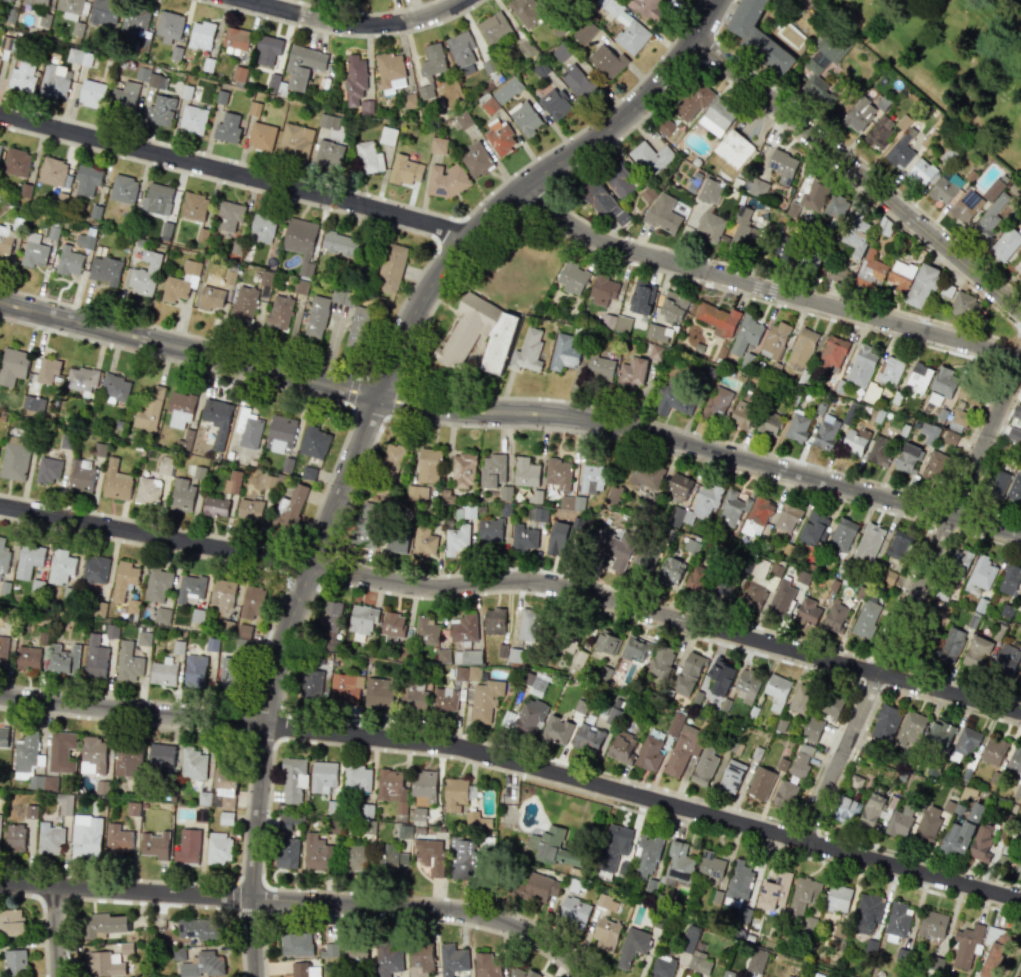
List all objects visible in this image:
building: (9, 0)
building: (69, 8)
building: (646, 9)
building: (526, 10)
building: (104, 11)
road: (703, 19)
building: (134, 20)
road: (356, 25)
building: (169, 26)
building: (493, 27)
building: (625, 27)
building: (583, 32)
building: (201, 35)
building: (758, 36)
building: (235, 39)
building: (143, 44)
building: (526, 48)
building: (267, 49)
building: (462, 51)
building: (78, 57)
park: (950, 59)
building: (606, 61)
building: (303, 65)
building: (821, 67)
building: (430, 68)
building: (390, 72)
building: (238, 73)
building: (23, 75)
building: (149, 77)
building: (354, 79)
building: (273, 80)
building: (54, 81)
building: (576, 82)
building: (91, 93)
building: (500, 94)
building: (123, 98)
building: (408, 100)
building: (691, 101)
building: (554, 103)
building: (365, 107)
building: (160, 110)
building: (859, 115)
building: (524, 117)
building: (718, 117)
building: (192, 119)
building: (463, 119)
building: (327, 121)
building: (903, 122)
building: (665, 127)
building: (227, 128)
building: (878, 133)
building: (387, 135)
building: (261, 136)
building: (499, 138)
building: (295, 141)
building: (437, 145)
building: (0, 147)
building: (734, 149)
building: (900, 150)
building: (328, 154)
building: (651, 156)
building: (367, 157)
building: (476, 159)
building: (16, 162)
building: (782, 166)
building: (406, 169)
building: (52, 171)
building: (921, 172)
road: (230, 173)
road: (858, 174)
building: (447, 179)
building: (87, 180)
building: (620, 181)
building: (758, 187)
building: (945, 188)
building: (123, 189)
building: (709, 191)
building: (814, 193)
road: (508, 196)
building: (157, 198)
building: (605, 204)
building: (836, 206)
building: (965, 206)
building: (194, 207)
building: (792, 209)
building: (662, 213)
building: (993, 214)
building: (229, 215)
building: (710, 226)
building: (262, 228)
building: (857, 234)
building: (84, 240)
building: (5, 241)
building: (300, 243)
building: (338, 243)
building: (1006, 243)
building: (783, 250)
building: (33, 251)
building: (68, 261)
building: (809, 261)
building: (1018, 266)
building: (391, 268)
building: (104, 270)
building: (870, 270)
building: (144, 274)
building: (837, 274)
building: (899, 274)
building: (572, 278)
building: (181, 282)
building: (922, 285)
road: (764, 288)
building: (602, 289)
building: (210, 298)
building: (641, 298)
building: (243, 303)
building: (964, 304)
building: (673, 306)
building: (279, 312)
building: (717, 319)
building: (315, 321)
building: (621, 324)
building: (657, 332)
building: (496, 333)
building: (746, 334)
road: (188, 348)
building: (801, 348)
road: (330, 349)
building: (527, 350)
building: (654, 352)
building: (832, 352)
building: (564, 353)
building: (12, 366)
building: (862, 366)
building: (599, 367)
building: (47, 370)
building: (632, 371)
building: (890, 371)
building: (919, 376)
building: (80, 380)
building: (944, 382)
building: (114, 389)
building: (871, 393)
building: (717, 401)
building: (674, 402)
building: (33, 403)
building: (179, 408)
building: (149, 410)
building: (1018, 413)
building: (741, 414)
building: (216, 420)
building: (957, 420)
building: (770, 423)
building: (797, 426)
building: (247, 429)
building: (826, 431)
building: (280, 433)
building: (929, 433)
building: (950, 438)
building: (185, 440)
building: (854, 441)
building: (314, 442)
road: (701, 449)
building: (880, 450)
building: (906, 458)
building: (390, 460)
building: (14, 461)
building: (428, 465)
building: (164, 466)
building: (933, 466)
building: (48, 469)
building: (491, 470)
building: (462, 471)
building: (525, 472)
building: (308, 473)
building: (558, 473)
building: (81, 475)
building: (645, 475)
building: (592, 479)
building: (115, 481)
building: (232, 482)
building: (679, 485)
building: (999, 485)
building: (1014, 489)
building: (614, 490)
building: (416, 492)
building: (181, 495)
building: (533, 496)
building: (446, 497)
building: (565, 502)
building: (577, 503)
building: (215, 507)
building: (290, 507)
building: (695, 507)
building: (732, 508)
building: (249, 510)
building: (464, 512)
building: (536, 514)
building: (756, 517)
building: (787, 517)
building: (366, 524)
building: (813, 526)
building: (489, 529)
building: (842, 534)
building: (523, 537)
building: (558, 538)
building: (456, 539)
building: (396, 541)
building: (423, 541)
building: (868, 543)
building: (691, 545)
building: (898, 545)
building: (618, 551)
building: (3, 557)
building: (28, 560)
building: (961, 563)
building: (642, 564)
building: (60, 566)
road: (811, 568)
building: (94, 569)
building: (669, 572)
building: (980, 575)
building: (123, 579)
building: (1009, 579)
road: (515, 581)
building: (695, 582)
building: (156, 584)
building: (189, 589)
building: (723, 589)
building: (223, 593)
building: (782, 597)
road: (910, 600)
building: (1020, 602)
building: (252, 603)
building: (99, 608)
building: (131, 608)
building: (807, 611)
building: (938, 611)
building: (836, 614)
building: (161, 615)
building: (331, 618)
building: (866, 618)
building: (362, 621)
building: (494, 621)
building: (528, 625)
building: (392, 626)
building: (463, 628)
building: (244, 630)
building: (425, 631)
building: (564, 636)
building: (143, 638)
building: (606, 642)
building: (213, 643)
building: (950, 644)
building: (3, 648)
building: (636, 649)
building: (976, 651)
building: (443, 655)
building: (514, 655)
building: (467, 656)
building: (27, 657)
building: (96, 657)
building: (1006, 658)
building: (63, 659)
building: (662, 660)
building: (127, 663)
building: (194, 671)
building: (163, 672)
building: (228, 672)
building: (467, 673)
building: (688, 674)
building: (1019, 674)
building: (720, 676)
road: (276, 678)
building: (537, 684)
building: (748, 684)
building: (310, 685)
building: (345, 688)
building: (776, 692)
building: (378, 693)
building: (444, 699)
building: (484, 699)
building: (801, 699)
building: (831, 707)
building: (526, 718)
building: (675, 723)
building: (885, 723)
building: (557, 729)
building: (812, 729)
building: (910, 730)
building: (940, 733)
building: (3, 737)
building: (588, 738)
building: (966, 741)
building: (622, 747)
building: (683, 749)
building: (60, 751)
building: (993, 751)
building: (92, 754)
building: (649, 754)
building: (161, 757)
building: (1015, 760)
building: (127, 761)
building: (799, 761)
building: (30, 762)
building: (193, 763)
road: (516, 764)
building: (705, 766)
building: (323, 776)
building: (731, 776)
road: (930, 777)
building: (357, 778)
building: (293, 779)
building: (760, 783)
building: (424, 784)
building: (101, 787)
building: (392, 788)
building: (785, 793)
building: (454, 794)
building: (64, 804)
building: (132, 809)
building: (846, 810)
building: (30, 811)
building: (872, 811)
building: (418, 813)
building: (0, 816)
building: (226, 818)
building: (476, 820)
building: (289, 822)
building: (899, 822)
building: (928, 824)
building: (962, 831)
building: (403, 832)
building: (15, 837)
building: (86, 838)
building: (49, 839)
building: (117, 839)
building: (981, 842)
building: (546, 844)
building: (155, 845)
building: (188, 846)
building: (614, 846)
building: (218, 848)
building: (1020, 851)
building: (287, 853)
building: (316, 853)
building: (430, 855)
building: (646, 855)
building: (352, 857)
building: (392, 858)
building: (462, 860)
building: (710, 864)
building: (678, 865)
building: (1017, 869)
building: (536, 888)
building: (739, 888)
building: (773, 891)
building: (802, 897)
building: (837, 898)
road: (302, 901)
road: (145, 902)
building: (606, 902)
road: (249, 911)
building: (574, 911)
building: (867, 914)
road: (390, 918)
building: (898, 919)
building: (12, 921)
building: (104, 924)
building: (932, 924)
building: (196, 928)
road: (58, 932)
building: (606, 934)
building: (297, 944)
building: (965, 945)
building: (632, 946)
building: (125, 948)
building: (329, 949)
building: (993, 951)
building: (356, 952)
building: (694, 952)
building: (178, 954)
building: (421, 957)
building: (387, 958)
building: (452, 960)
building: (755, 960)
building: (15, 961)
building: (102, 964)
building: (202, 965)
building: (486, 965)
road: (1016, 966)
building: (306, 968)
building: (526, 973)
building: (787, 976)

